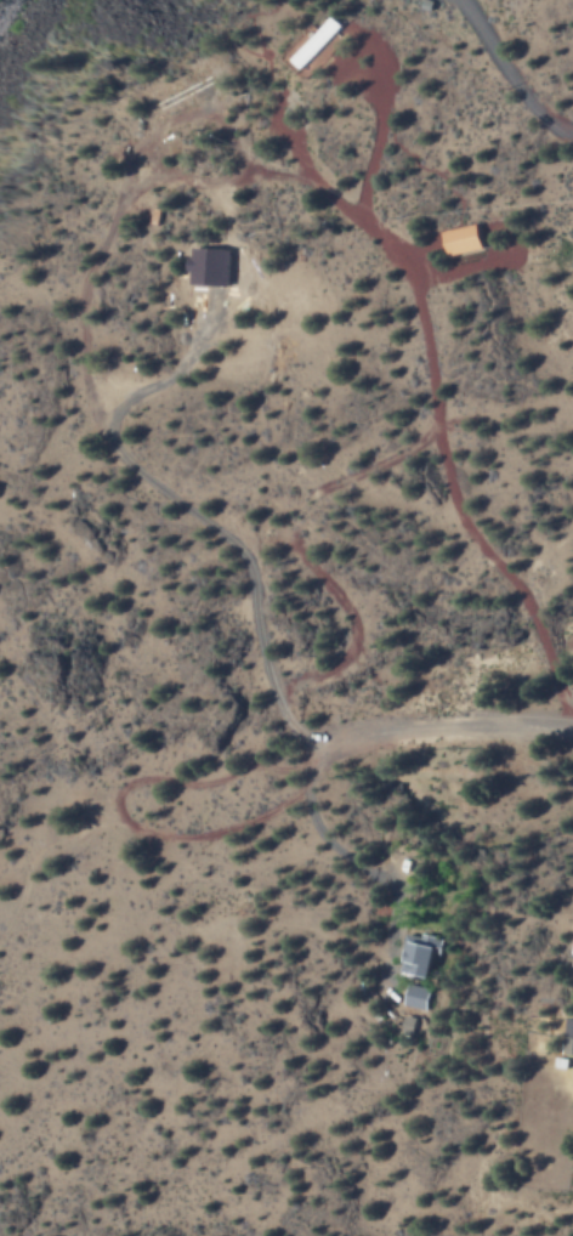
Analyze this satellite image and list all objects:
river: (8, 12)
building: (317, 41)
building: (463, 238)
building: (208, 266)
road: (449, 724)
building: (420, 953)
building: (416, 997)
building: (568, 1036)

